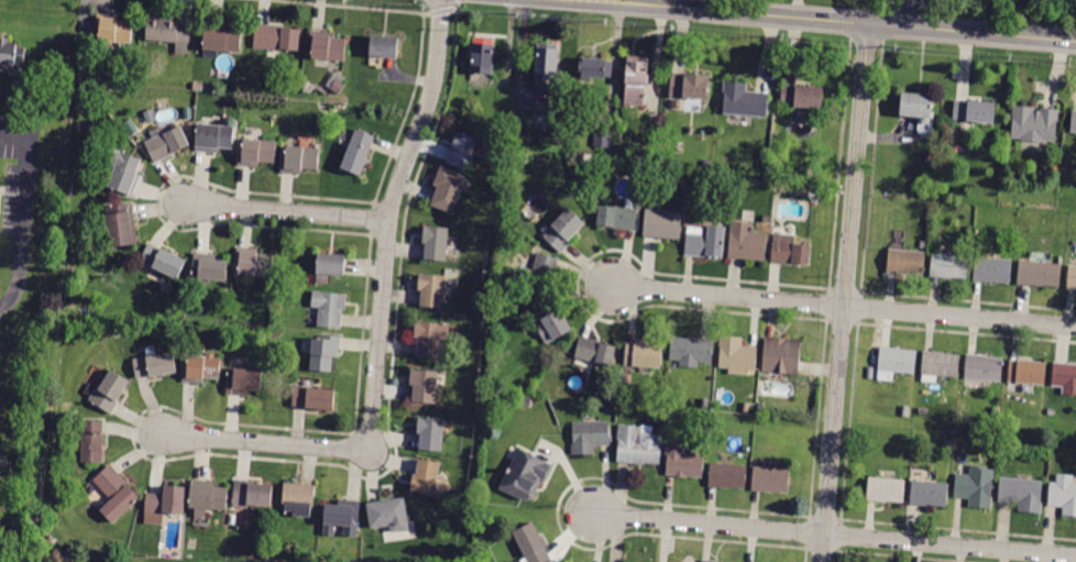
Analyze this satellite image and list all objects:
road: (453, 1)
road: (453, 5)
road: (451, 8)
road: (437, 9)
road: (920, 13)
road: (827, 20)
building: (113, 29)
building: (169, 33)
building: (222, 37)
building: (277, 37)
building: (327, 46)
building: (385, 46)
building: (11, 52)
road: (520, 54)
building: (482, 56)
building: (545, 65)
building: (595, 68)
building: (637, 80)
building: (198, 86)
building: (689, 86)
building: (338, 87)
building: (802, 97)
building: (744, 101)
building: (916, 104)
building: (974, 111)
building: (188, 117)
building: (545, 118)
building: (1074, 122)
building: (1033, 124)
building: (133, 132)
building: (213, 137)
building: (602, 137)
building: (167, 144)
building: (462, 151)
building: (257, 152)
building: (359, 152)
building: (765, 154)
building: (299, 159)
building: (639, 165)
building: (123, 170)
building: (705, 188)
building: (448, 189)
road: (19, 210)
road: (287, 212)
building: (617, 218)
building: (662, 224)
building: (122, 225)
building: (564, 231)
building: (705, 242)
building: (747, 242)
building: (436, 243)
building: (789, 250)
building: (163, 261)
building: (254, 262)
building: (905, 262)
building: (332, 264)
building: (949, 265)
building: (209, 267)
building: (992, 269)
building: (544, 274)
building: (1039, 274)
building: (1070, 277)
building: (282, 280)
building: (431, 290)
road: (845, 293)
building: (226, 294)
road: (842, 306)
building: (330, 308)
building: (552, 323)
road: (381, 328)
building: (430, 337)
building: (691, 351)
building: (325, 353)
building: (595, 353)
building: (644, 355)
building: (737, 355)
building: (781, 355)
building: (894, 362)
building: (155, 363)
building: (940, 365)
building: (201, 366)
building: (984, 367)
building: (1028, 372)
building: (1065, 378)
building: (243, 381)
building: (424, 385)
building: (109, 392)
building: (312, 398)
building: (706, 403)
building: (623, 407)
building: (746, 408)
building: (1008, 408)
building: (905, 411)
building: (996, 412)
building: (679, 416)
building: (431, 433)
building: (590, 437)
building: (92, 442)
building: (948, 443)
building: (639, 445)
building: (684, 461)
building: (6, 466)
building: (526, 476)
building: (727, 476)
building: (426, 477)
building: (771, 480)
building: (976, 487)
building: (886, 491)
building: (117, 493)
building: (253, 494)
building: (929, 494)
building: (1022, 494)
building: (1064, 494)
building: (208, 497)
building: (299, 498)
building: (164, 502)
building: (341, 515)
building: (389, 515)
building: (89, 518)
building: (351, 532)
road: (835, 533)
building: (51, 540)
building: (531, 544)
building: (264, 553)
building: (516, 561)
building: (710, 561)

